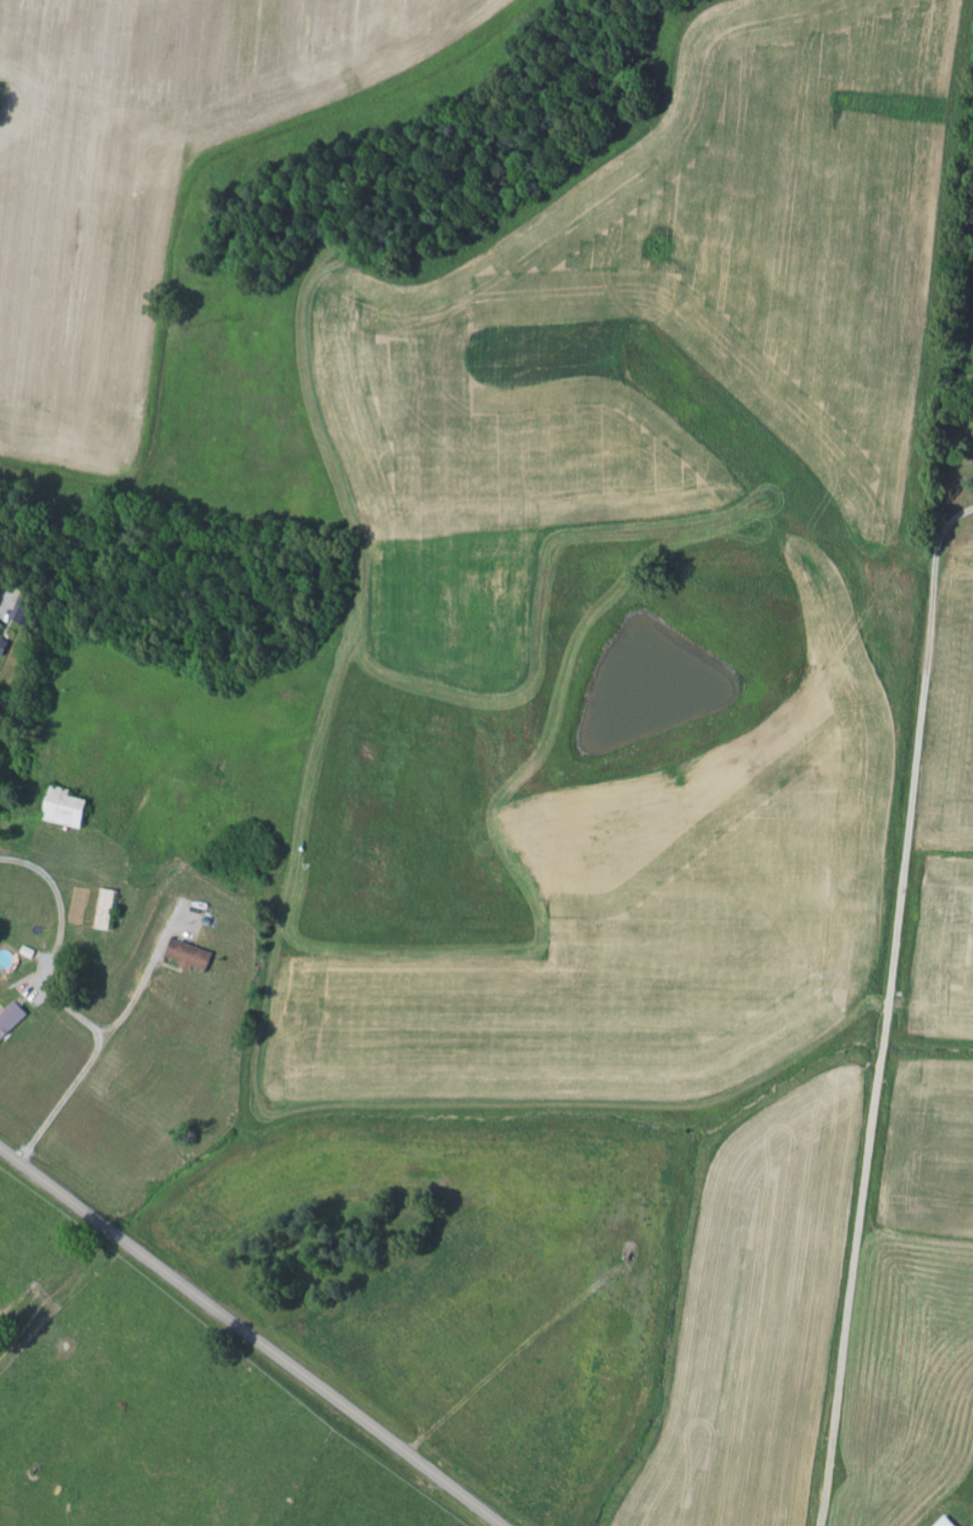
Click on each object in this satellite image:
building: (2, 628)
building: (5, 647)
building: (70, 808)
building: (111, 909)
building: (194, 955)
road: (879, 963)
building: (13, 1021)
road: (251, 1336)
road: (27, 1485)
building: (950, 1522)

